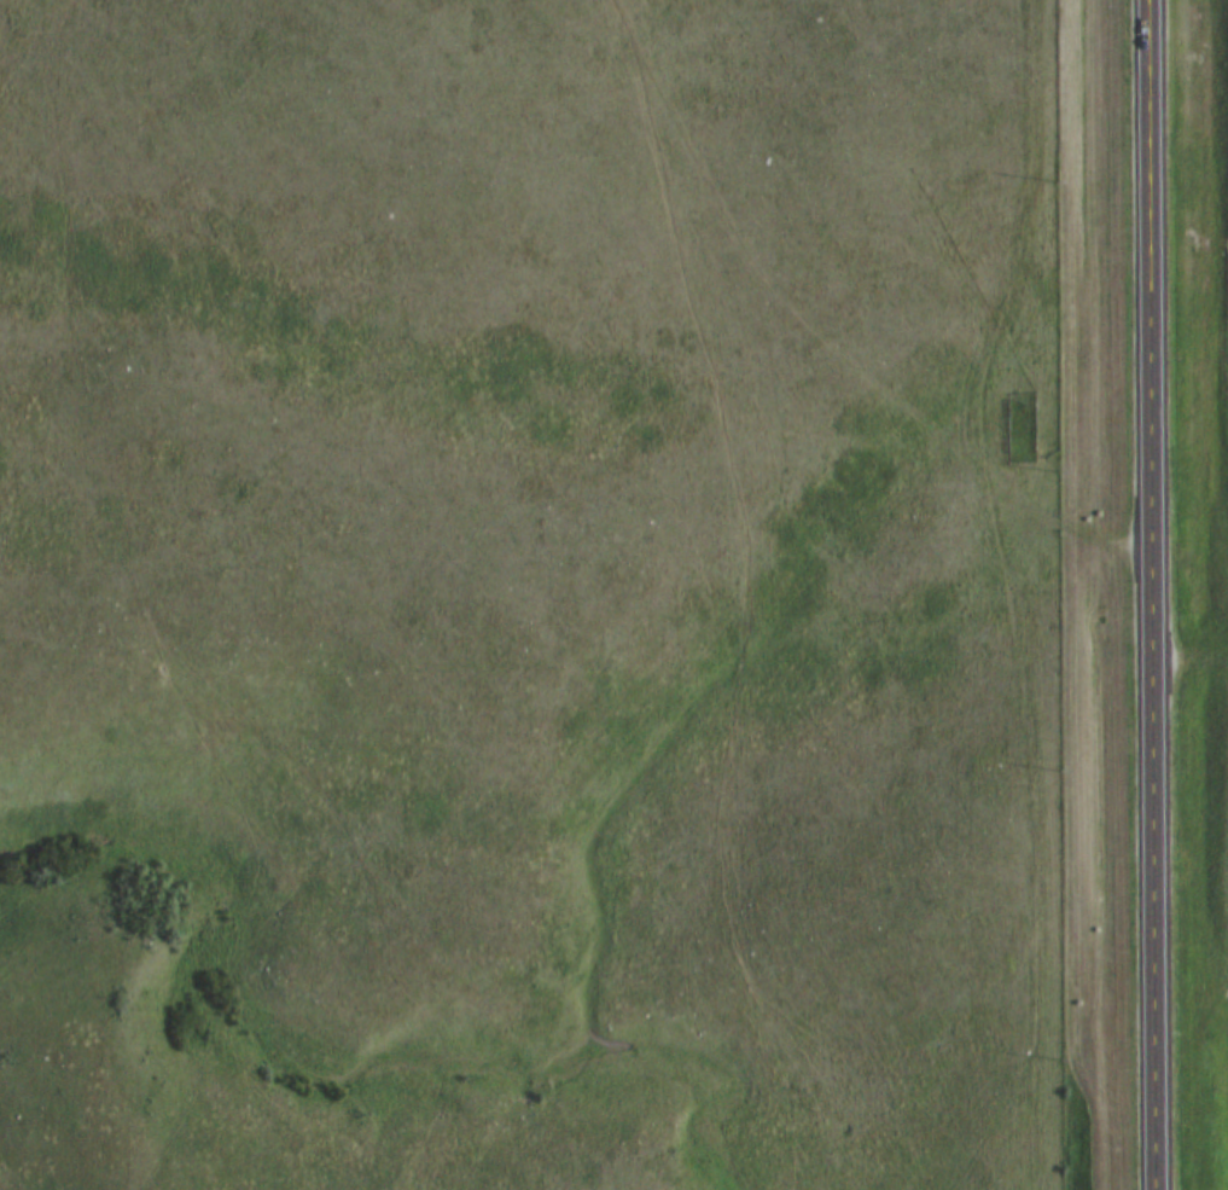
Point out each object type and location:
road: (1152, 594)

